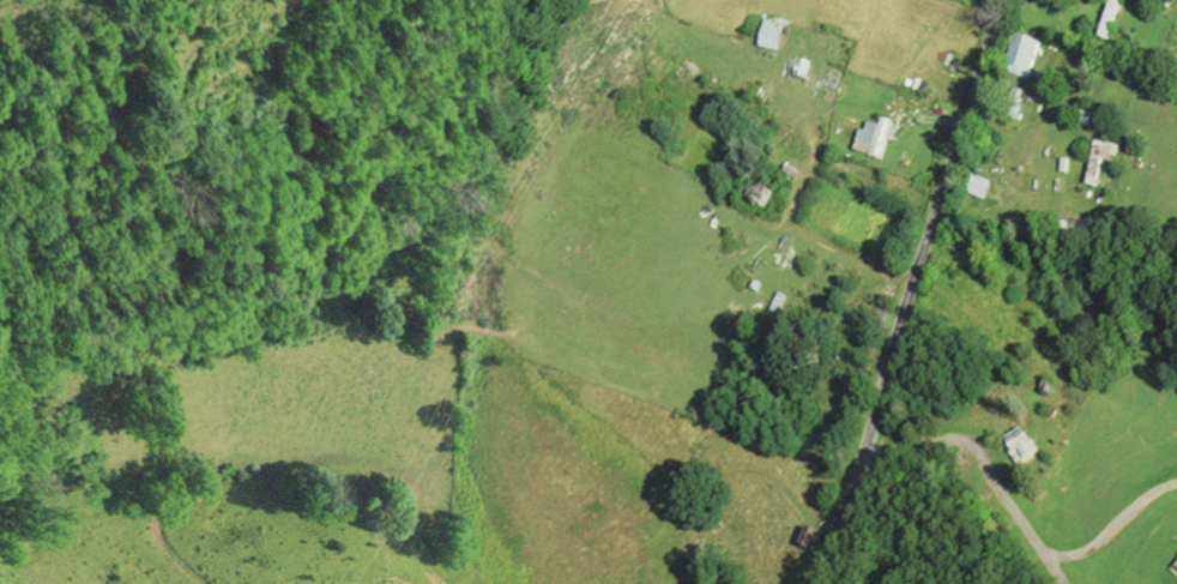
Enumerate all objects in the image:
building: (769, 38)
building: (1019, 58)
building: (797, 71)
building: (1013, 103)
building: (1082, 118)
building: (873, 140)
building: (1131, 143)
building: (1098, 159)
building: (976, 187)
building: (757, 200)
road: (910, 291)
building: (1019, 451)
road: (989, 468)
building: (808, 538)
building: (1176, 568)

